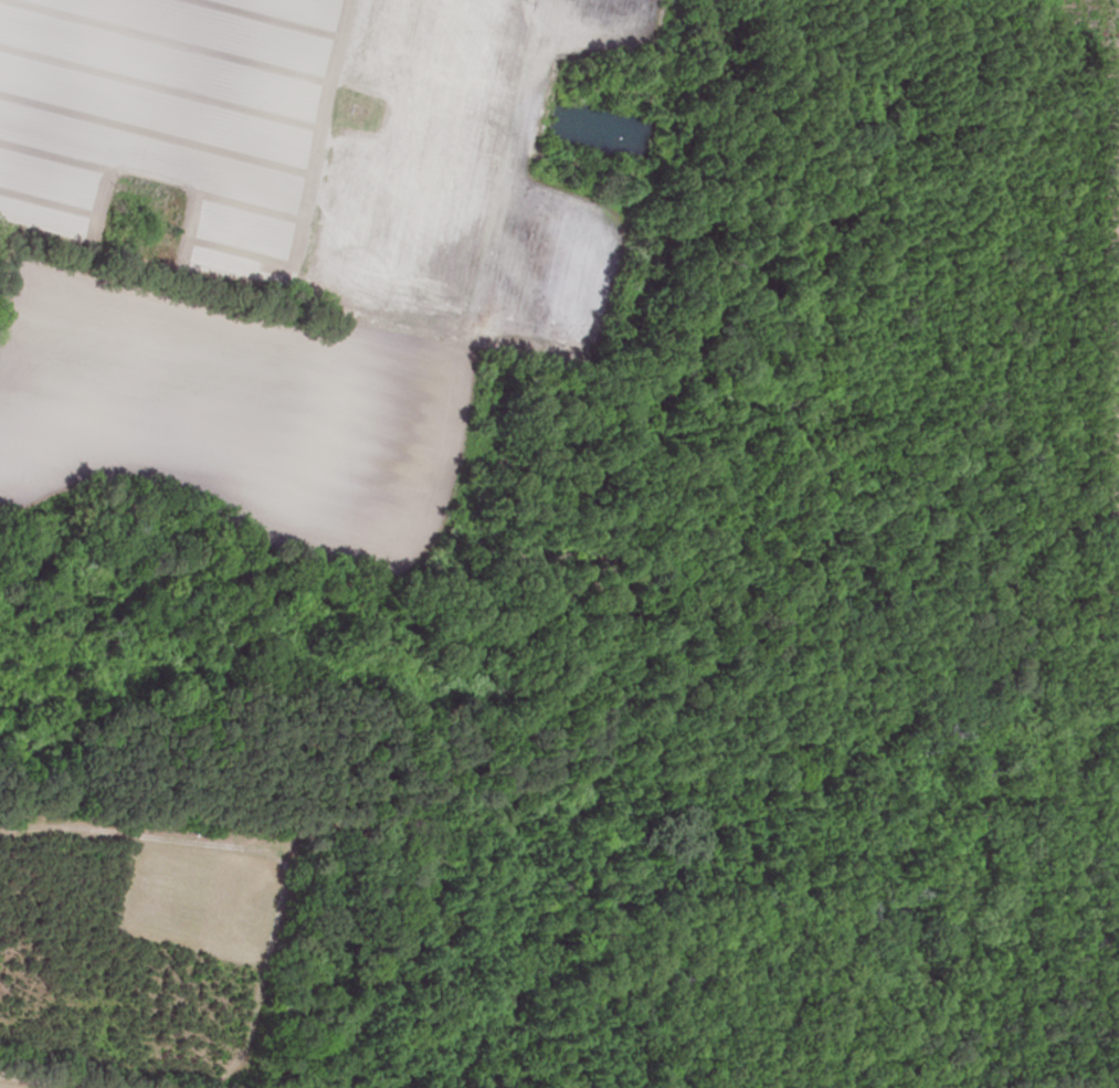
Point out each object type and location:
building: (131, 224)

